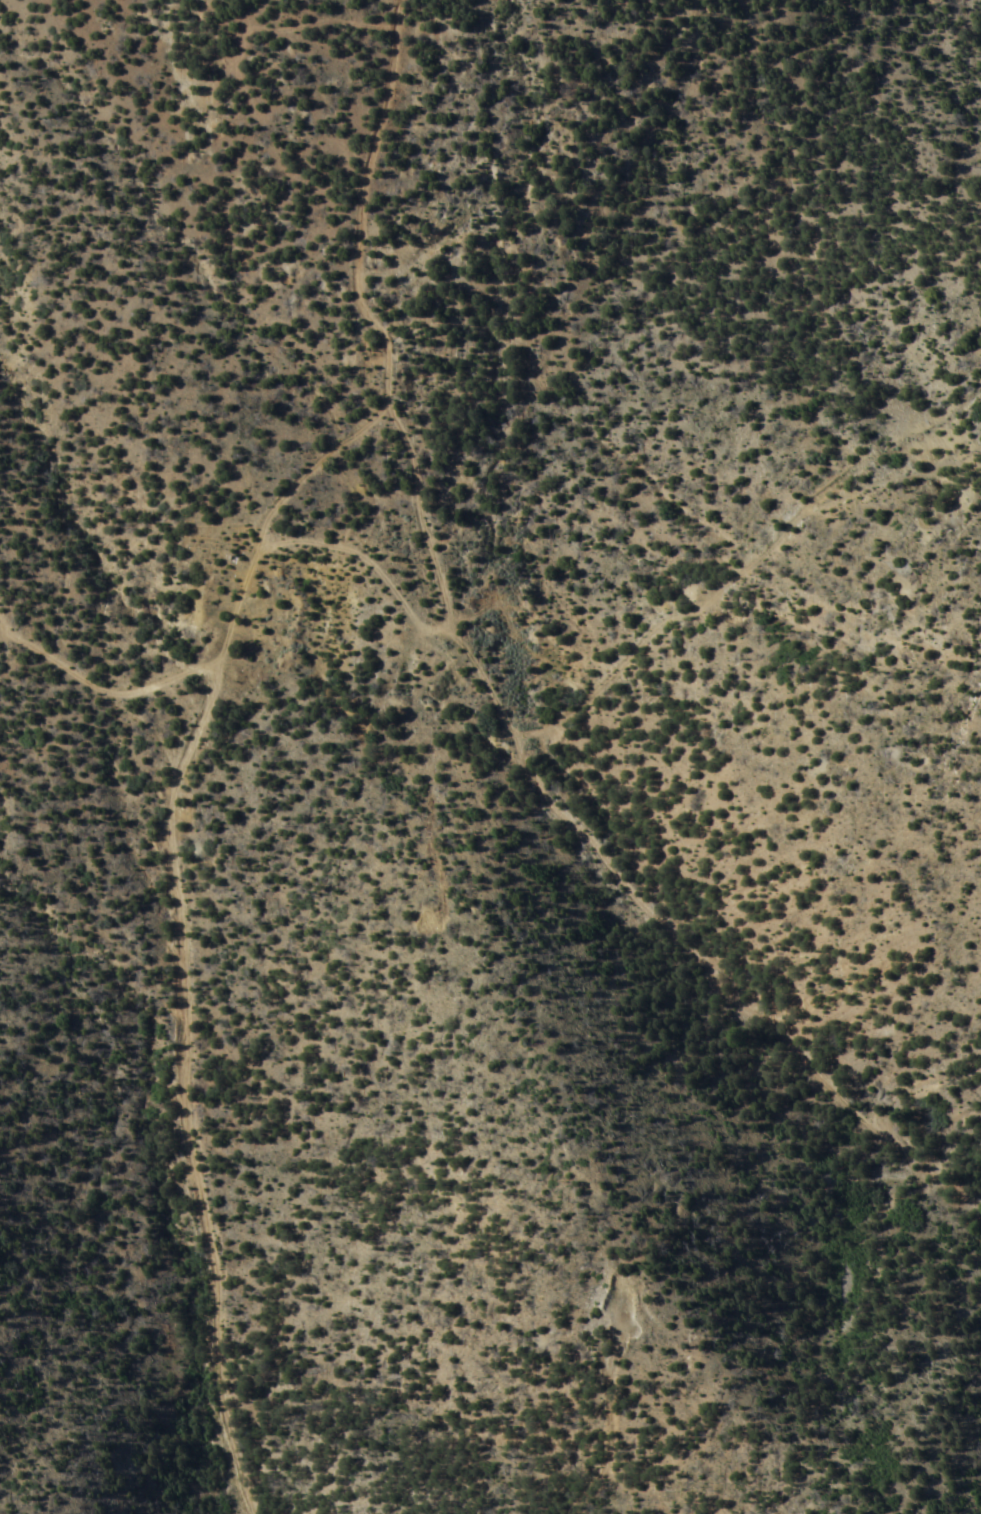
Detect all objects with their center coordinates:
road: (191, 980)

